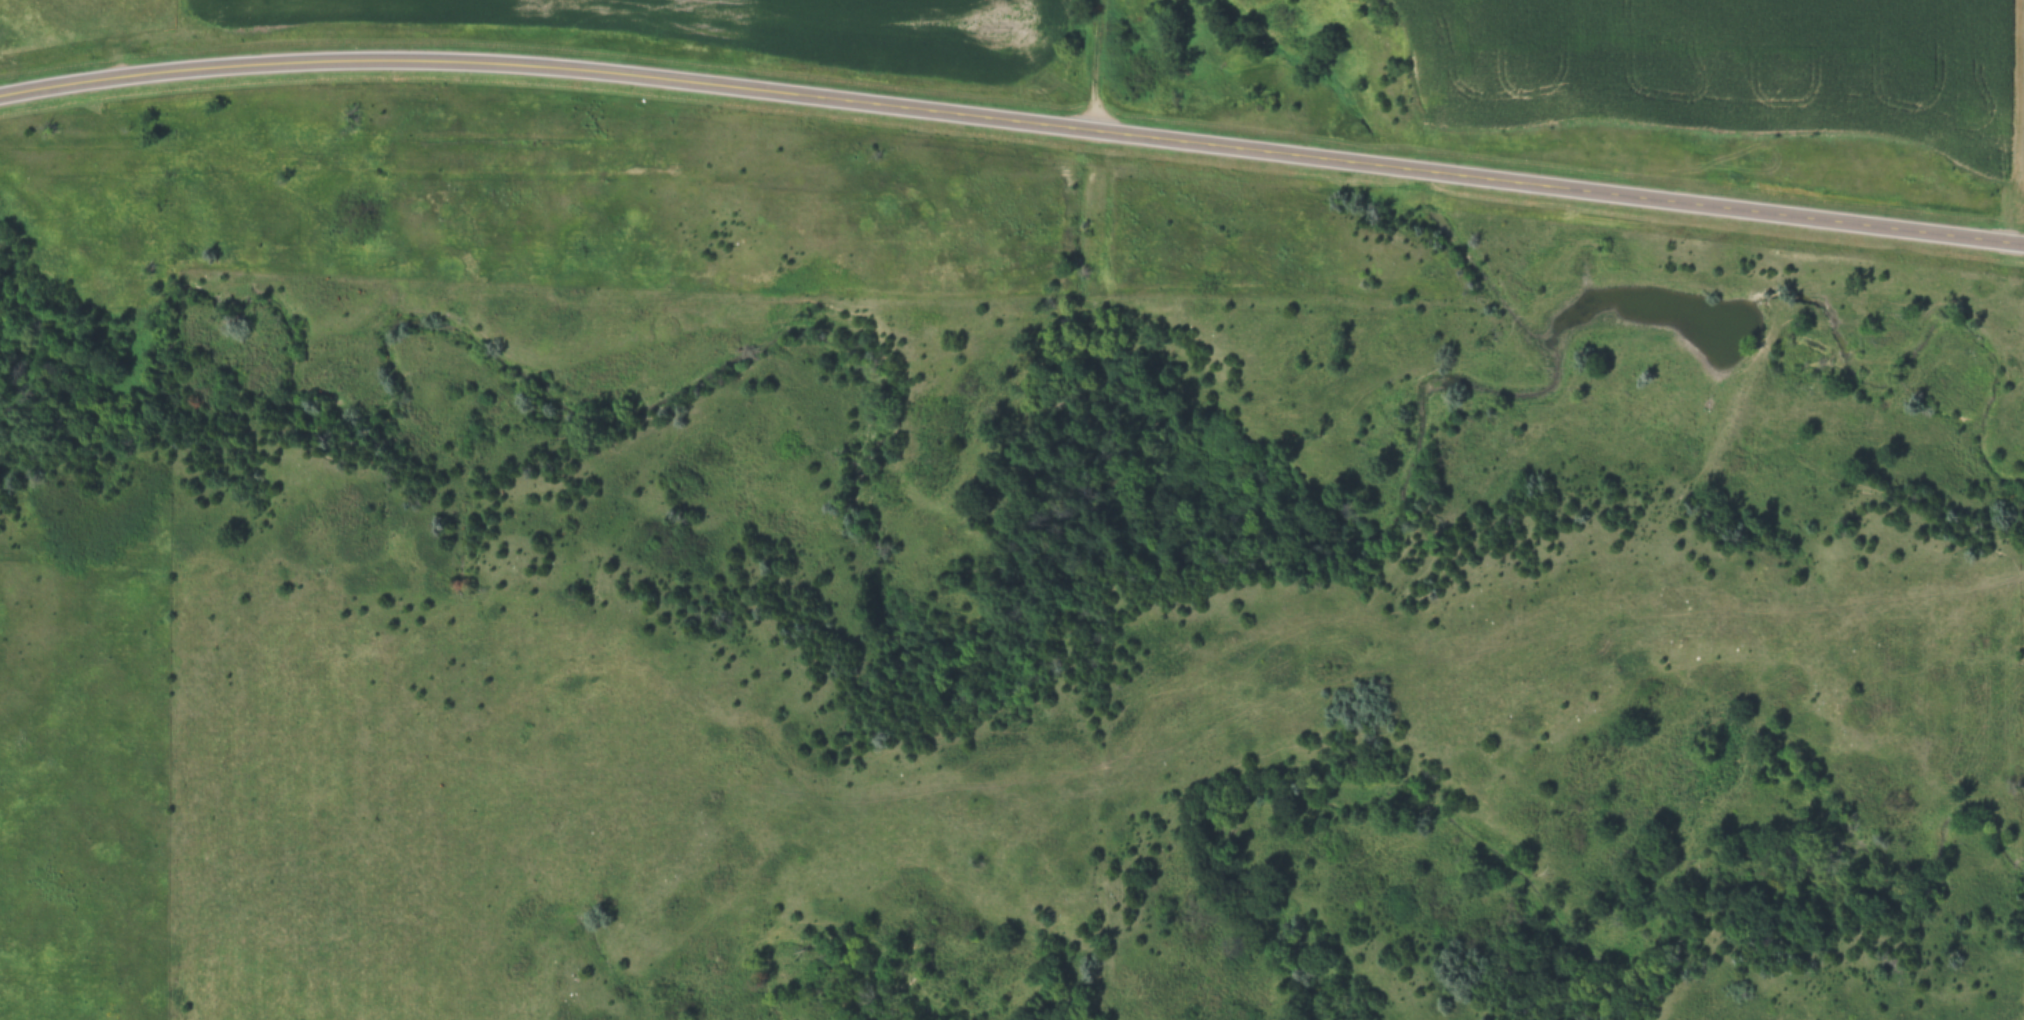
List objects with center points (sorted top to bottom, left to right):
road: (1098, 65)
road: (1013, 122)

